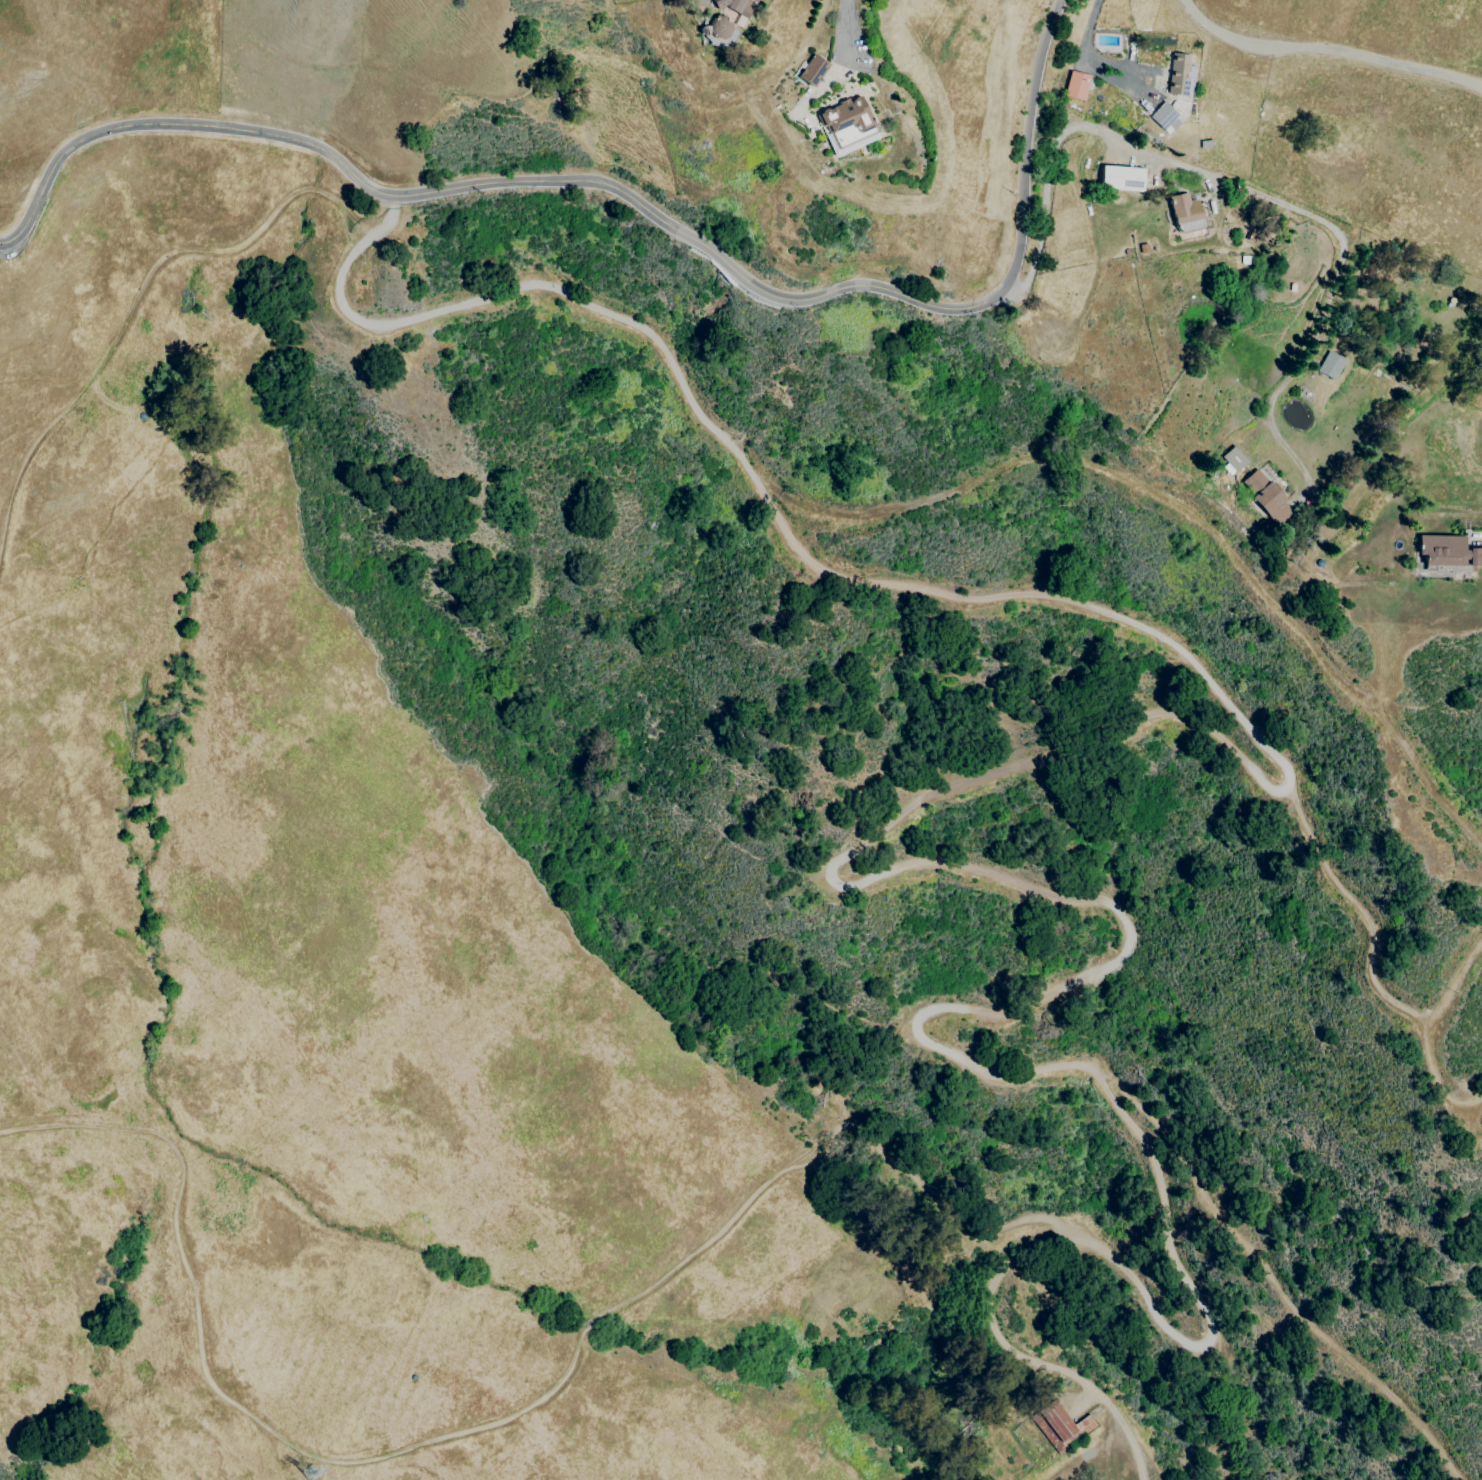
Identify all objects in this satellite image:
building: (738, 6)
road: (847, 24)
building: (720, 31)
road: (1083, 43)
road: (1325, 49)
building: (813, 70)
building: (1178, 74)
building: (1076, 85)
building: (1164, 118)
building: (848, 124)
building: (1121, 178)
road: (1241, 188)
road: (632, 198)
building: (1185, 213)
road: (388, 218)
road: (574, 300)
building: (1330, 365)
building: (1232, 460)
building: (1265, 497)
road: (1178, 507)
road: (1477, 539)
building: (1447, 552)
road: (947, 862)
road: (1371, 966)
road: (1454, 984)
road: (1121, 1265)
road: (1271, 1279)
road: (1026, 1404)
road: (495, 1423)
building: (1063, 1423)
power tower: (316, 1474)

